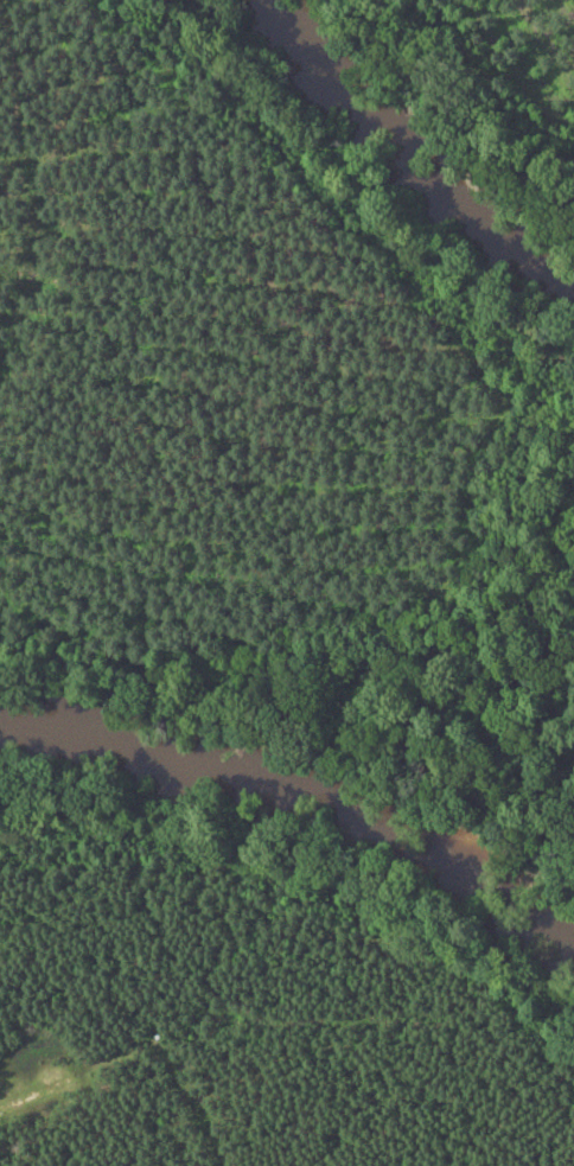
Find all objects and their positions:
river: (414, 153)
river: (302, 772)

